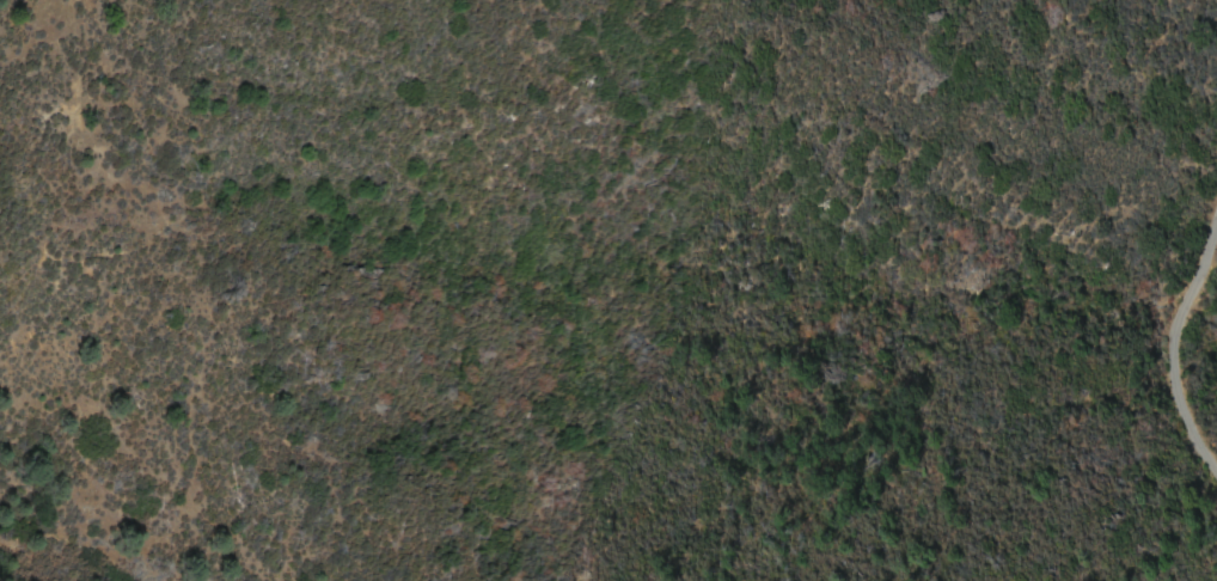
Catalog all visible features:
road: (1161, 277)

